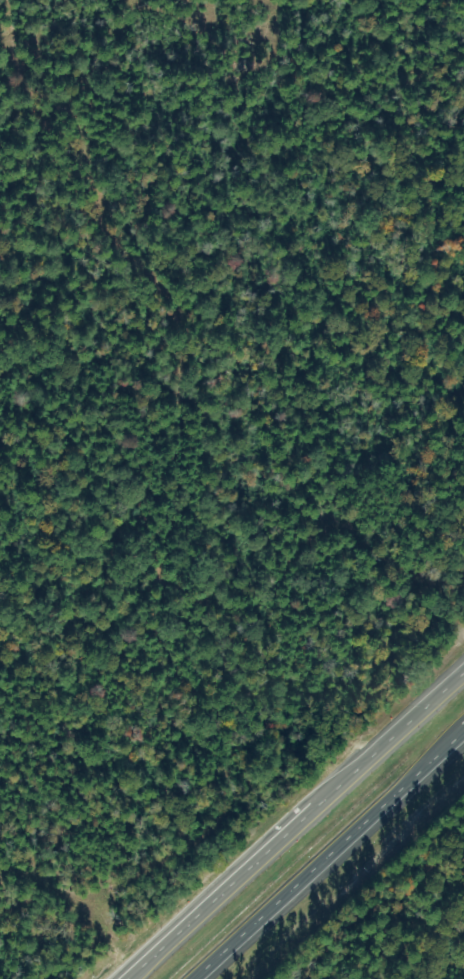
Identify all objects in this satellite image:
road: (294, 823)
road: (322, 849)

